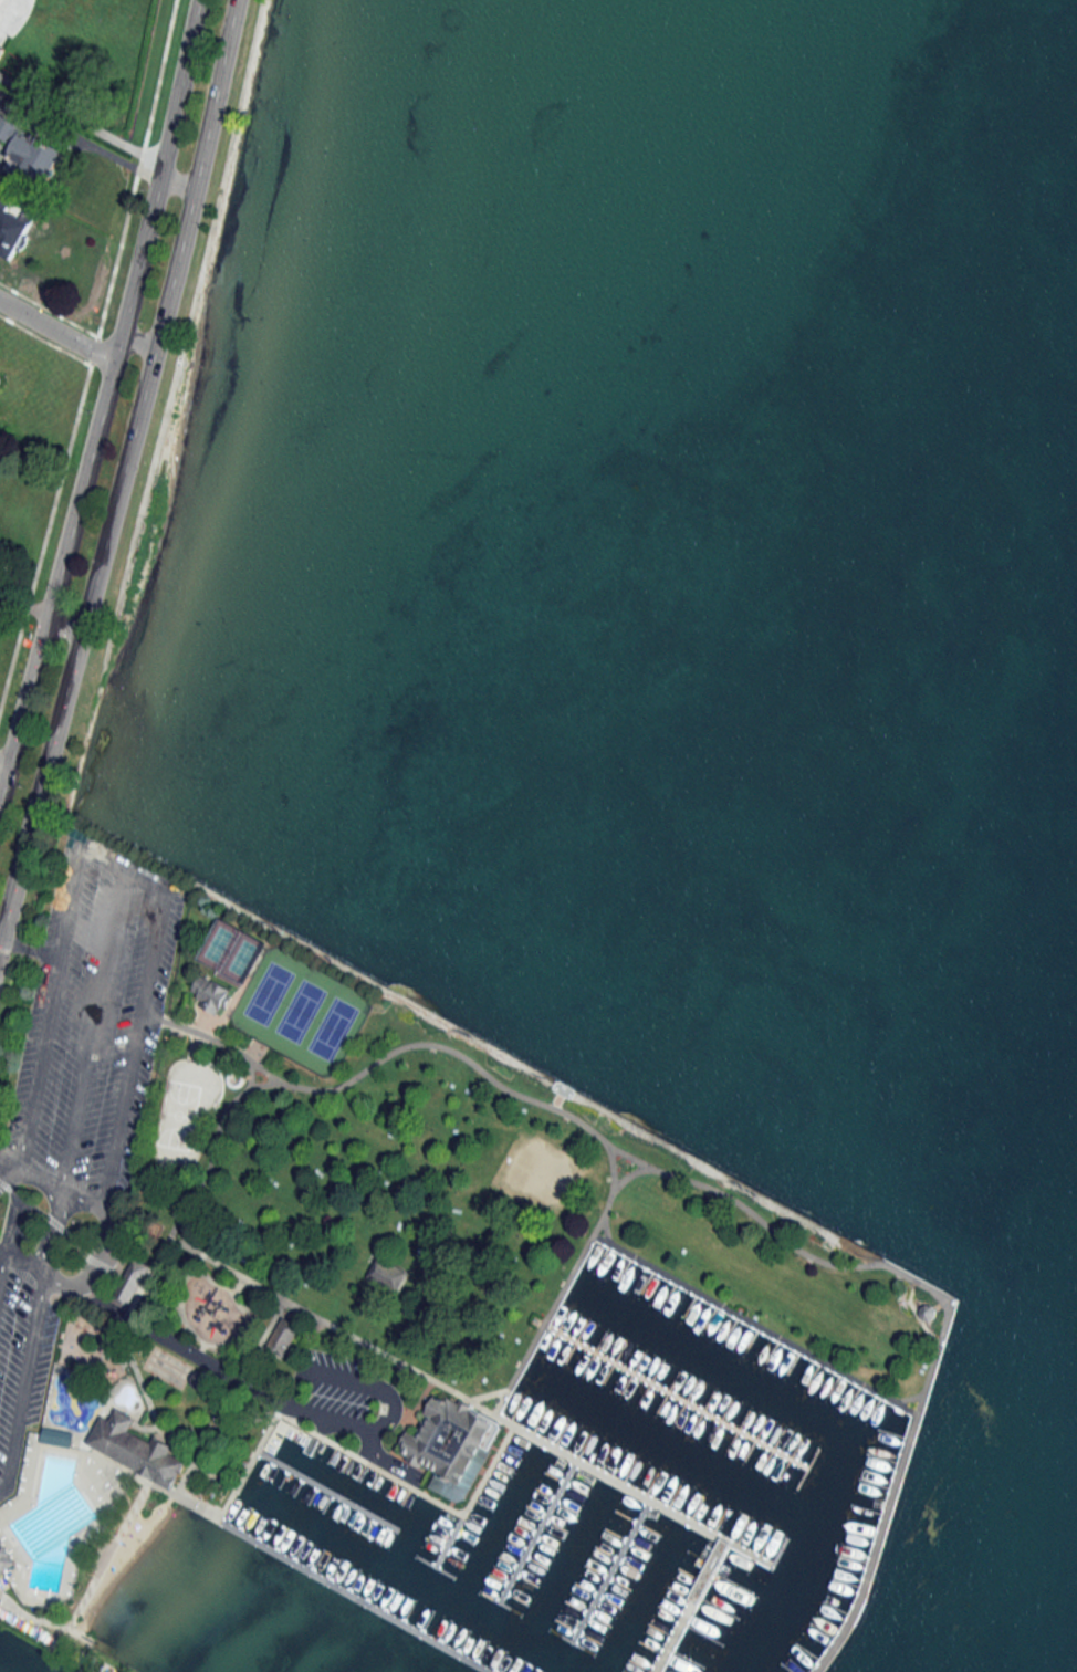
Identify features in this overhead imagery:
building: (0, 0)
building: (1, 49)
building: (30, 154)
road: (176, 180)
building: (11, 228)
road: (125, 309)
road: (56, 328)
road: (138, 331)
road: (119, 474)
road: (22, 606)
road: (63, 623)
road: (22, 701)
road: (2, 769)
road: (105, 860)
road: (71, 905)
road: (1, 940)
road: (31, 949)
building: (211, 994)
road: (92, 1034)
road: (39, 1064)
parking lot: (74, 1098)
road: (6, 1162)
road: (6, 1174)
road: (36, 1179)
park: (311, 1241)
building: (388, 1274)
building: (130, 1283)
building: (928, 1313)
building: (282, 1337)
building: (926, 1387)
pier: (678, 1399)
building: (56, 1438)
building: (451, 1445)
building: (134, 1449)
pier: (644, 1495)
building: (6, 1557)
pier: (344, 1592)

